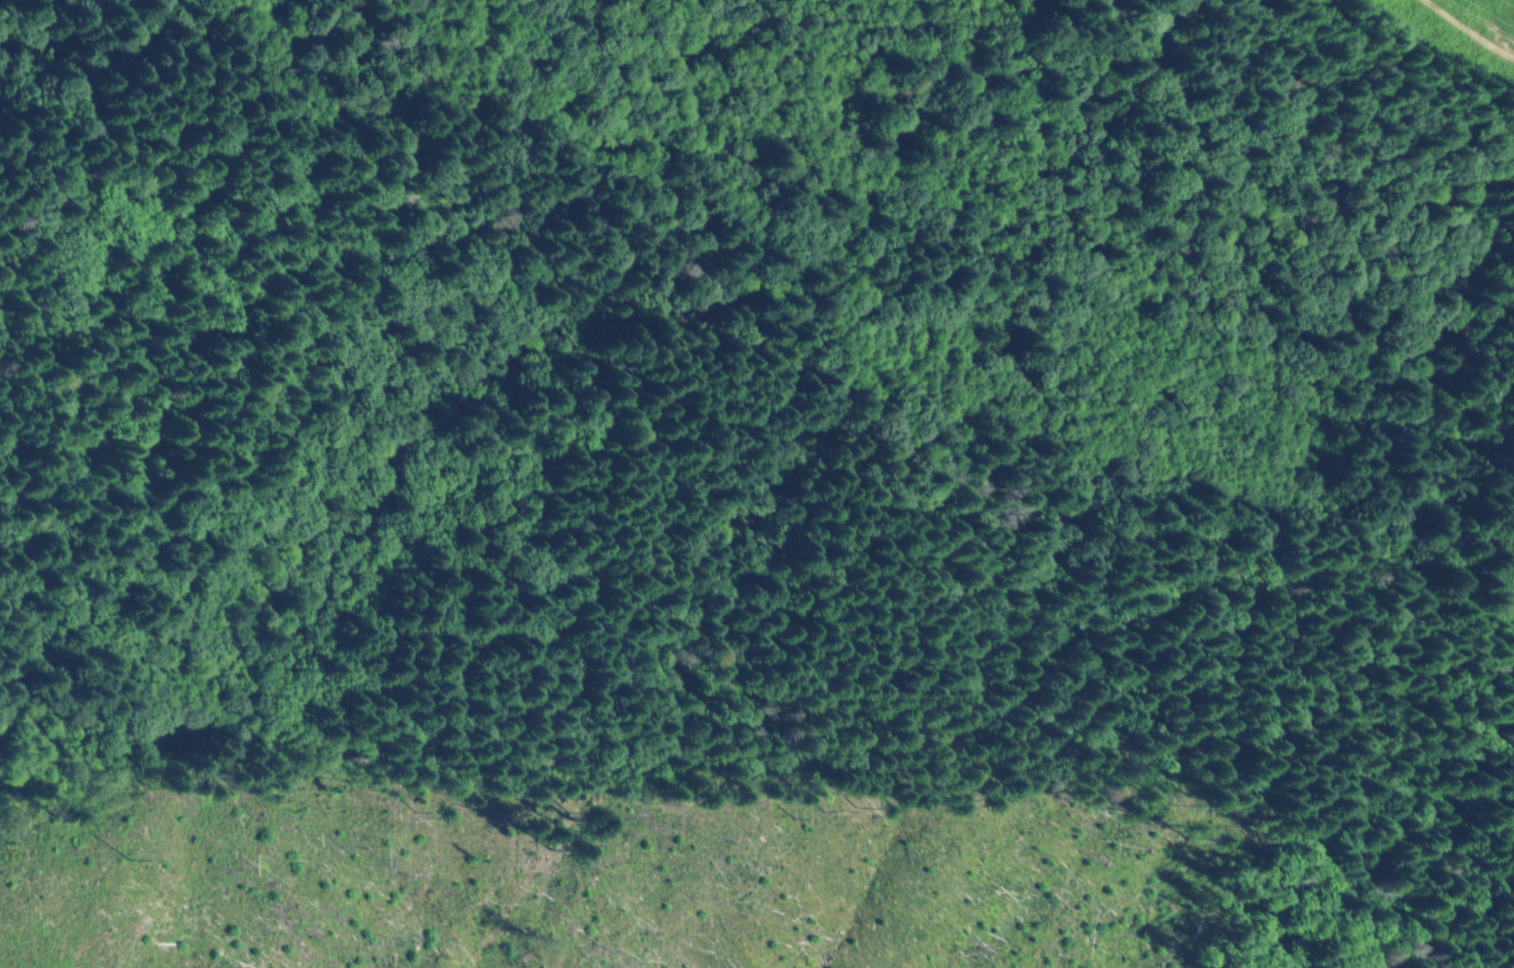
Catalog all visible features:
road: (1471, 28)

